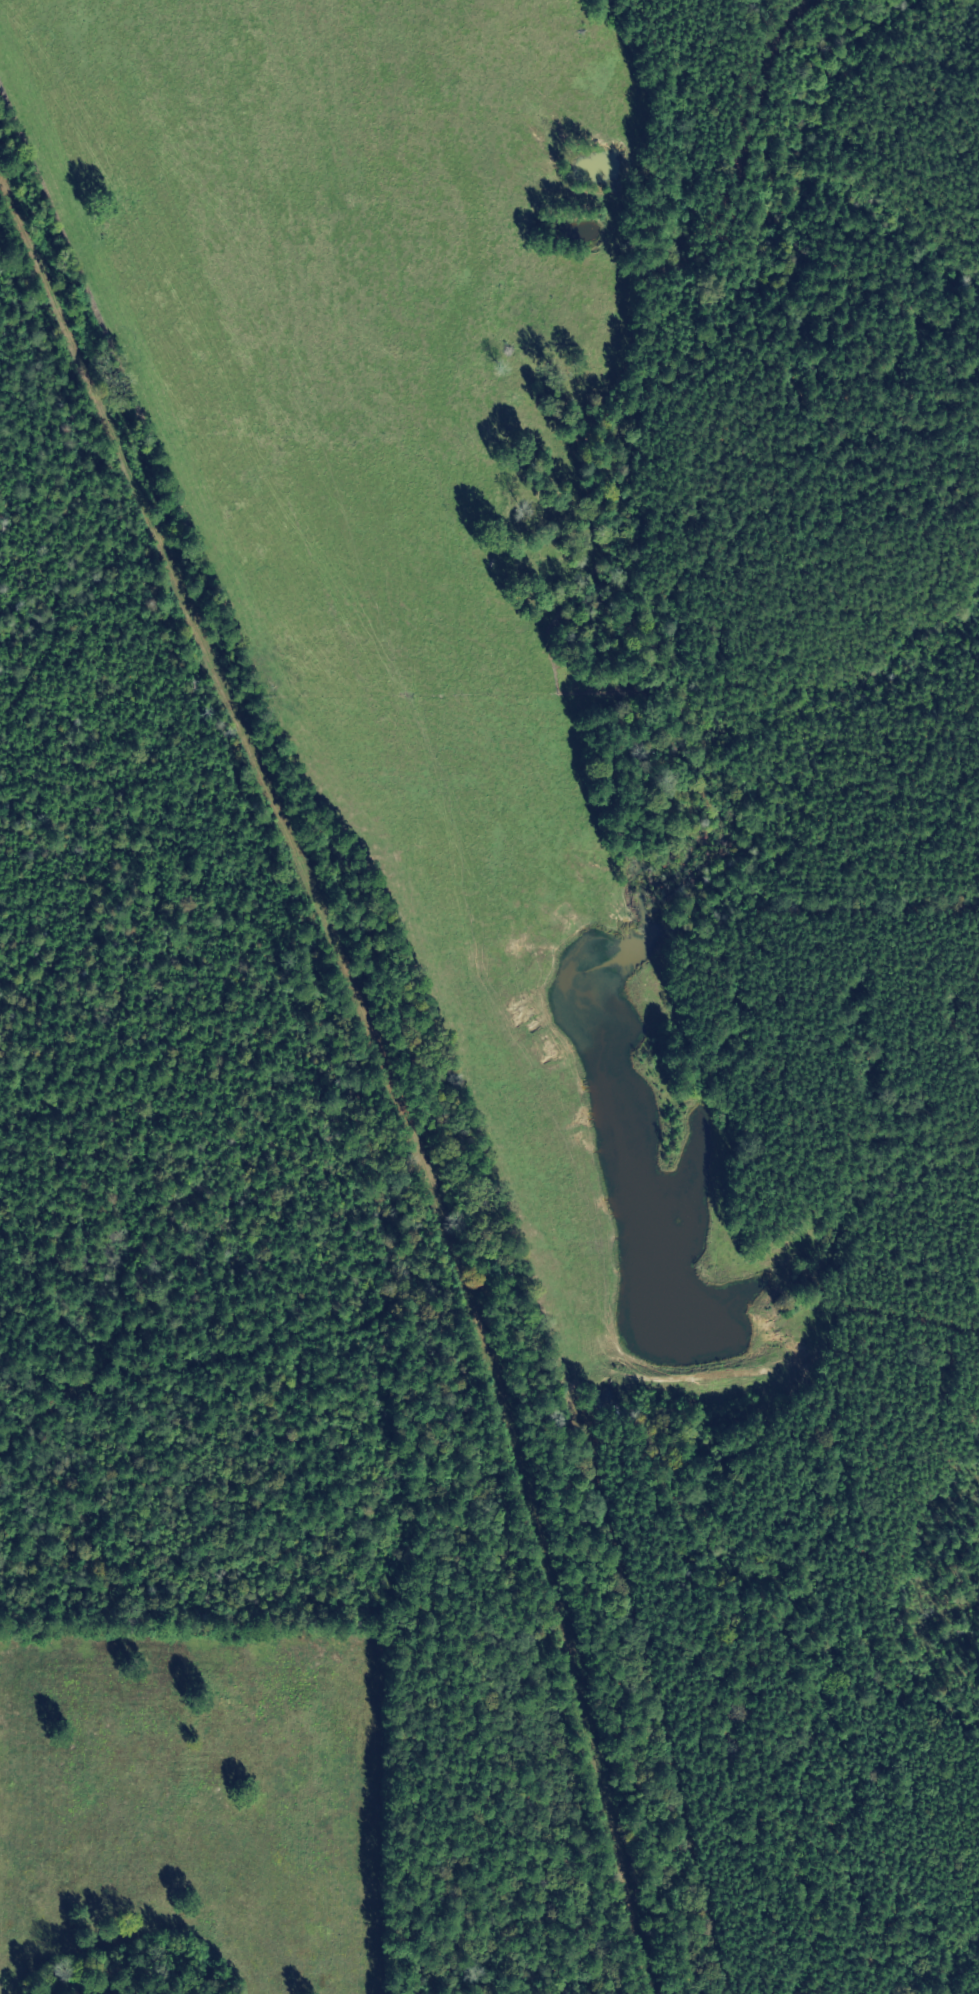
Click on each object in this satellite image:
railway: (371, 1079)

